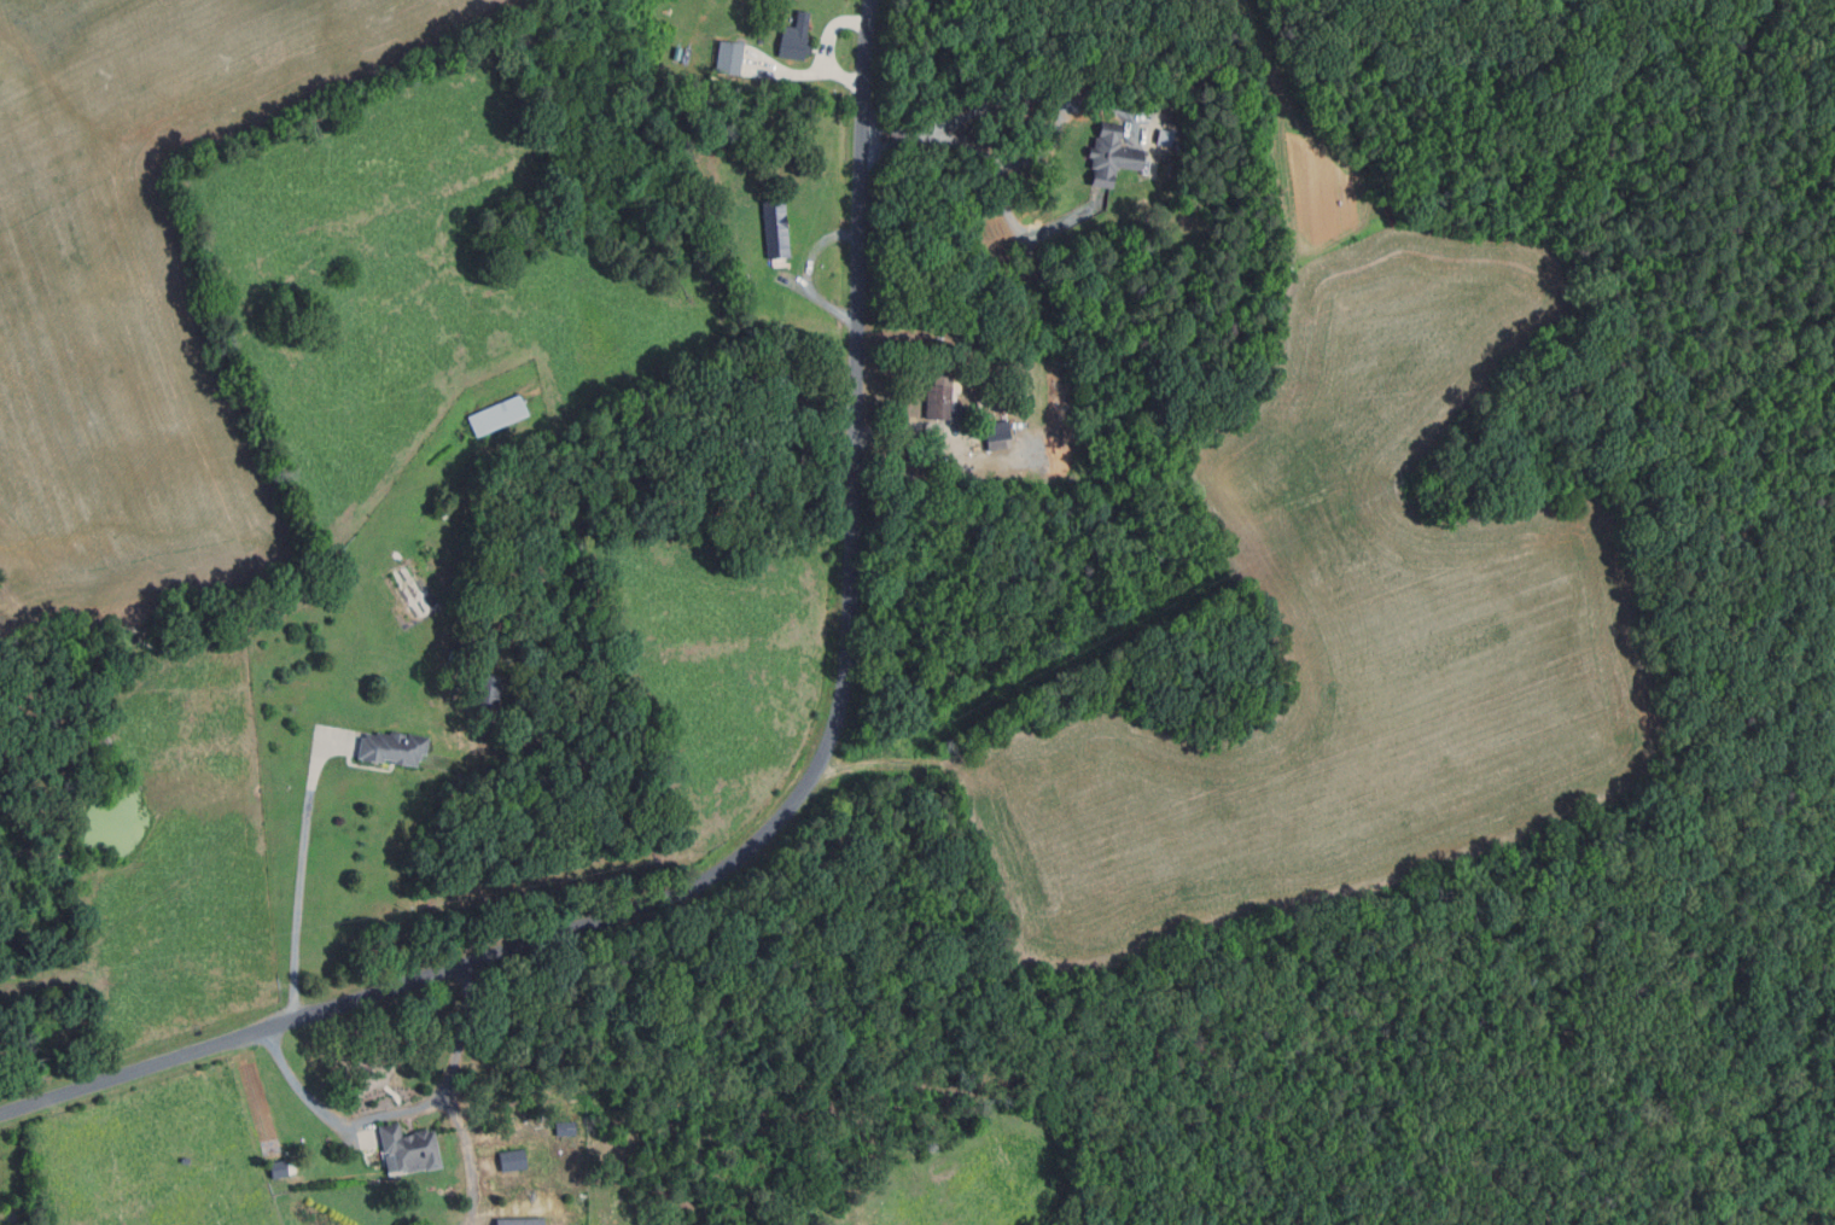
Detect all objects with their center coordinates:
building: (794, 36)
road: (827, 45)
building: (1158, 51)
building: (675, 52)
building: (726, 57)
road: (998, 100)
building: (1164, 136)
building: (1109, 153)
building: (712, 227)
building: (775, 228)
road: (804, 270)
building: (761, 334)
building: (942, 356)
building: (782, 367)
building: (744, 380)
building: (939, 398)
building: (980, 398)
road: (826, 402)
building: (496, 415)
road: (903, 424)
building: (997, 434)
building: (1025, 451)
building: (458, 652)
building: (488, 690)
building: (390, 746)
road: (779, 821)
road: (299, 865)
road: (402, 1110)
building: (564, 1130)
building: (408, 1147)
building: (512, 1160)
building: (520, 1221)

